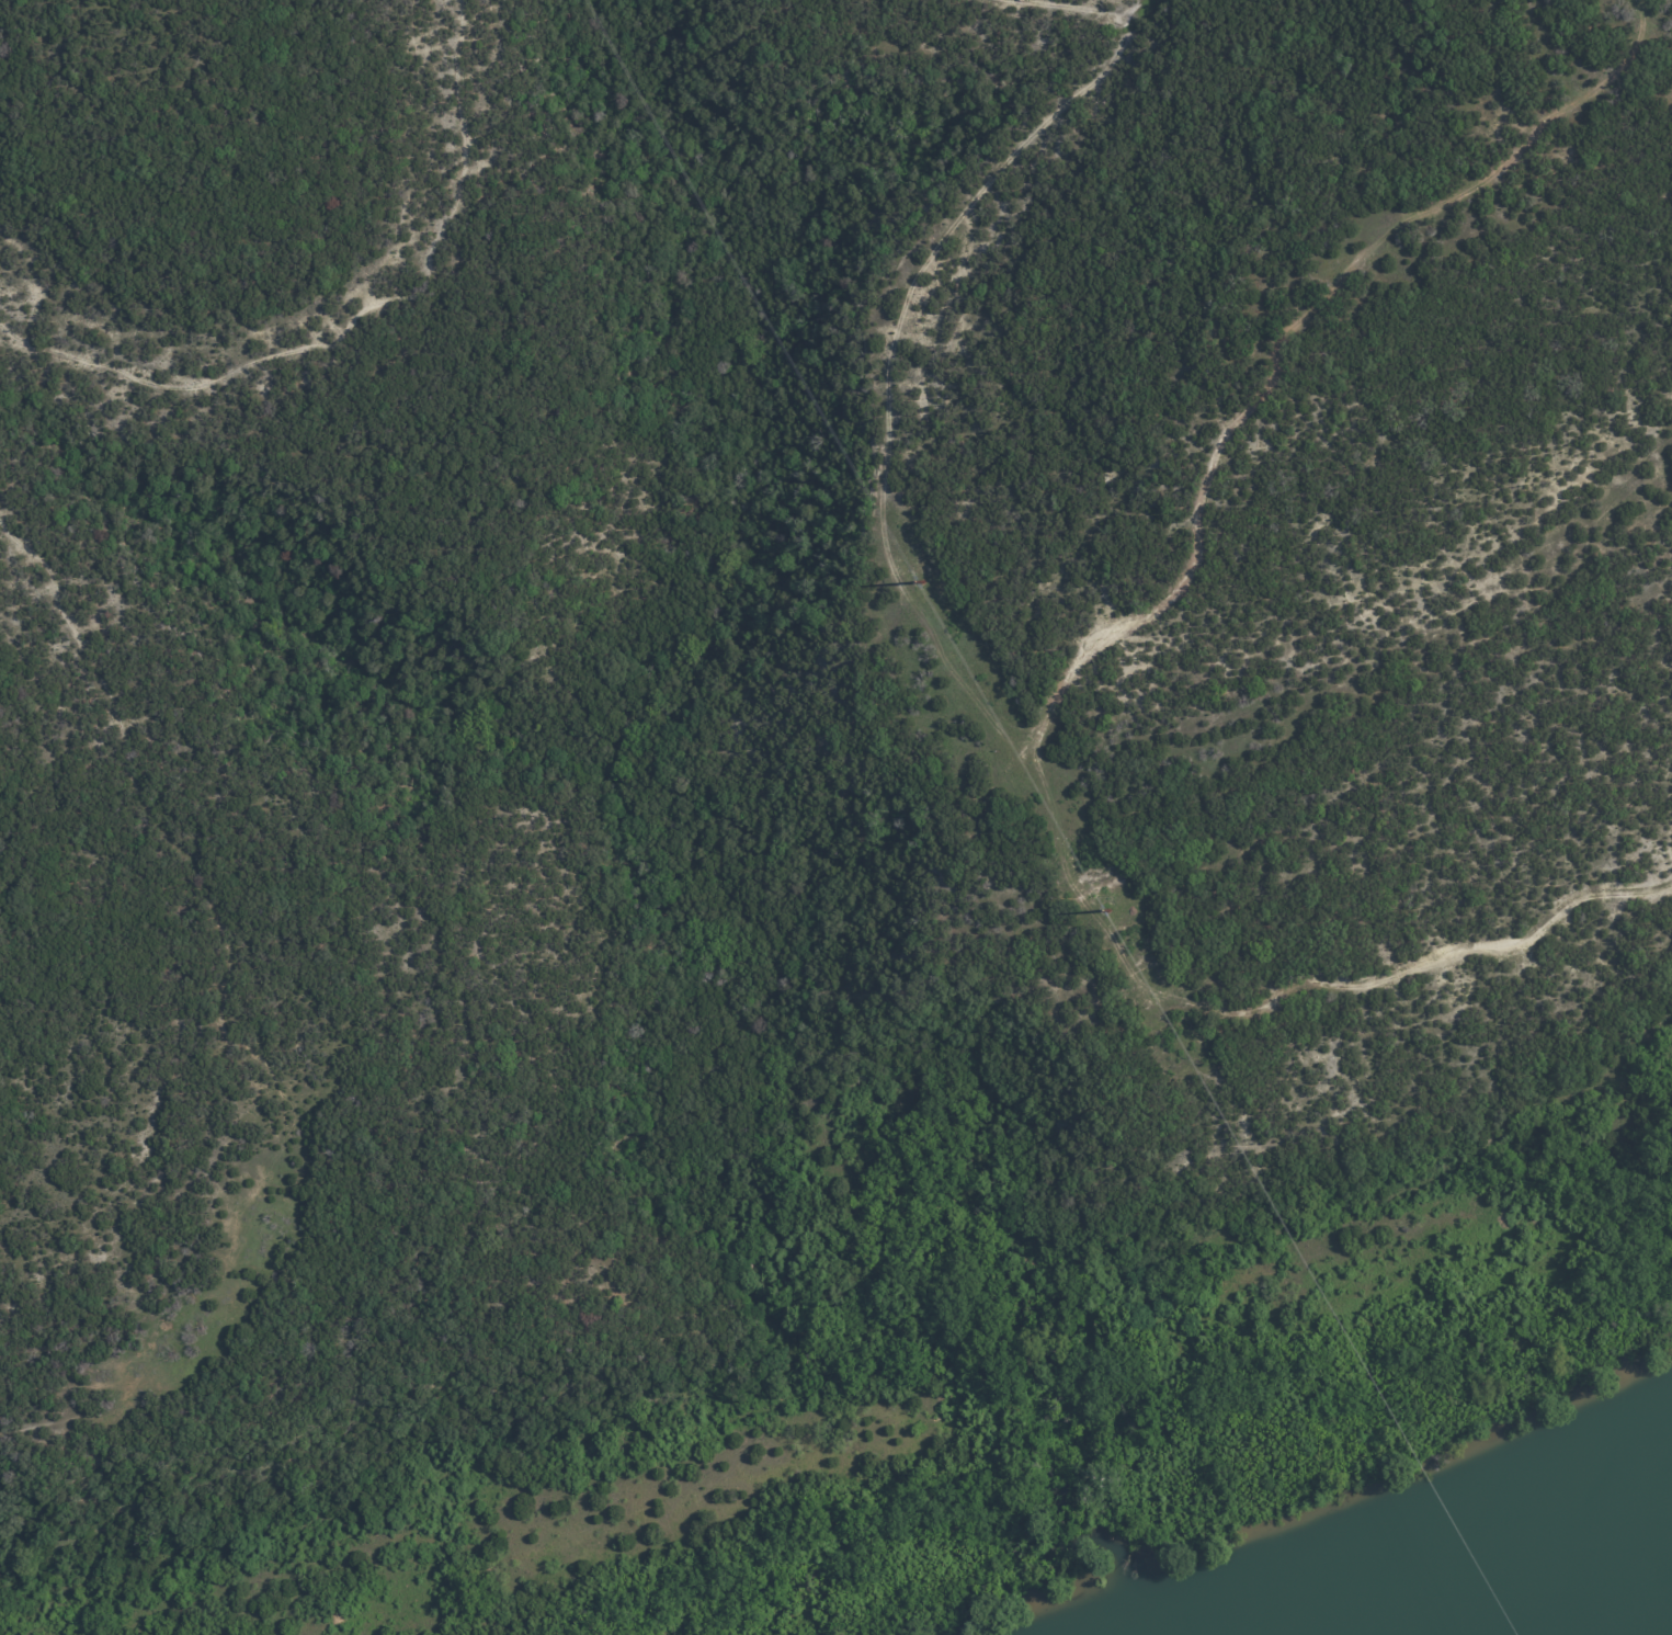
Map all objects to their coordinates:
power tower: (921, 582)
road: (1066, 689)
power tower: (1108, 910)
river: (1559, 1574)

